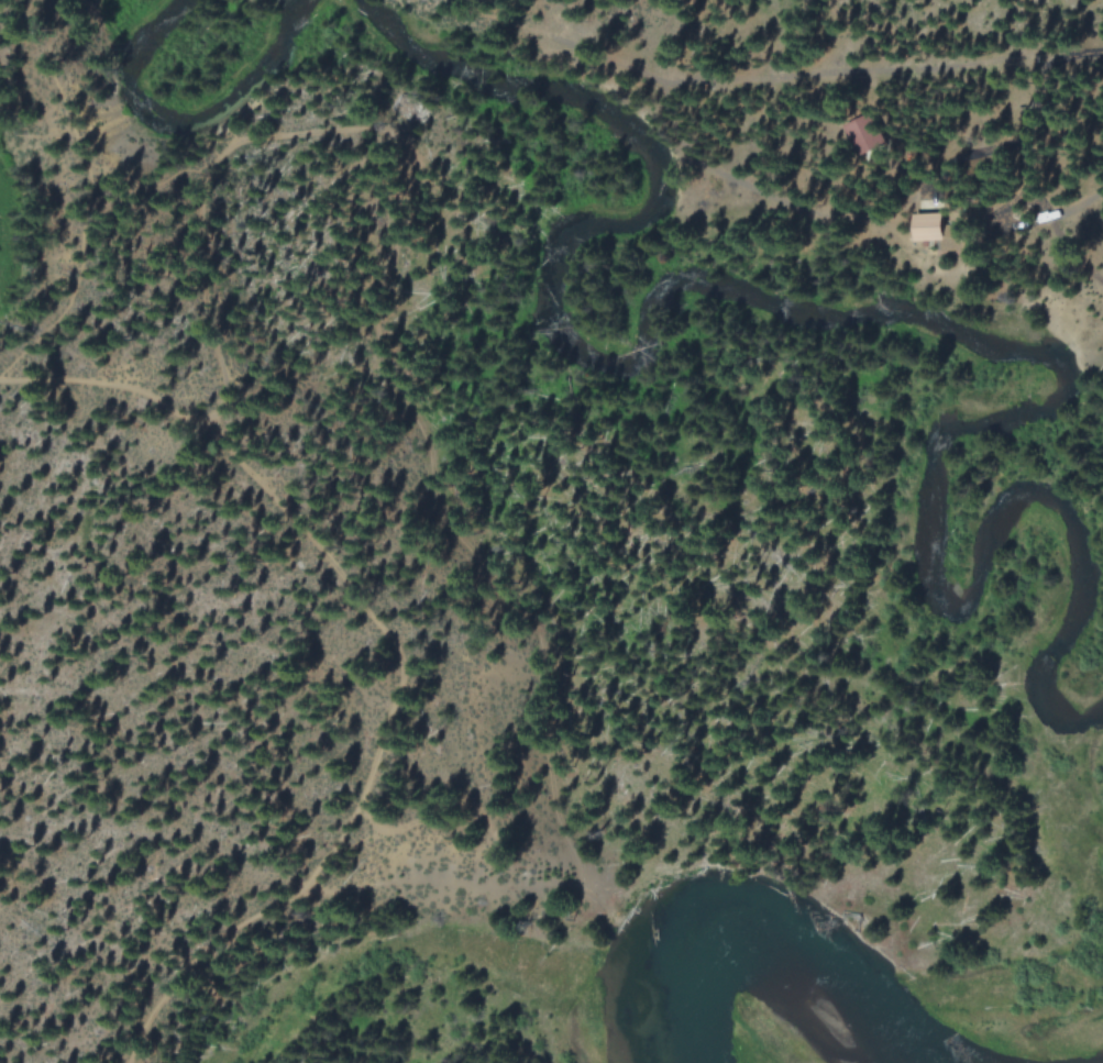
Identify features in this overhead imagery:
road: (1040, 75)
road: (86, 198)
building: (931, 226)
river: (650, 317)
road: (435, 484)
road: (369, 613)
river: (743, 933)

